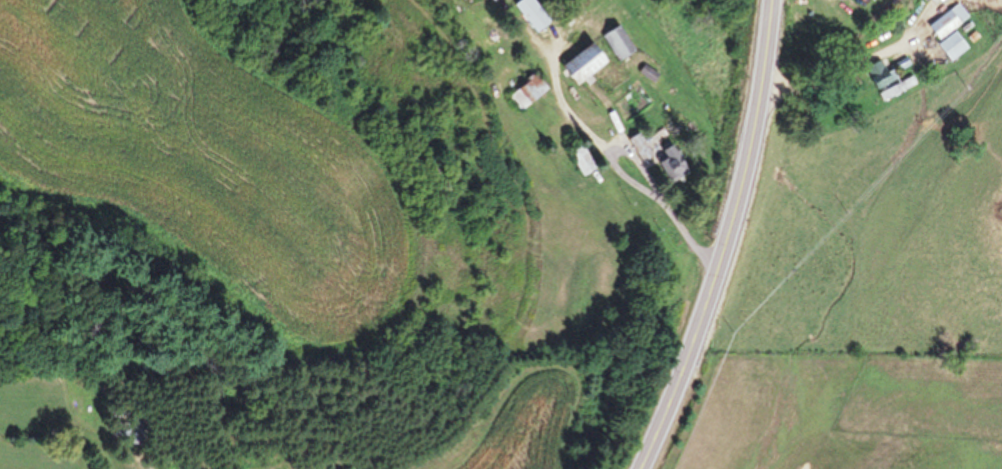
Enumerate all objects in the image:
building: (530, 13)
building: (946, 31)
building: (576, 63)
road: (855, 67)
building: (877, 73)
building: (529, 88)
building: (640, 146)
building: (668, 158)
crop: (202, 172)
road: (727, 240)
crop: (543, 350)
crop: (42, 424)

